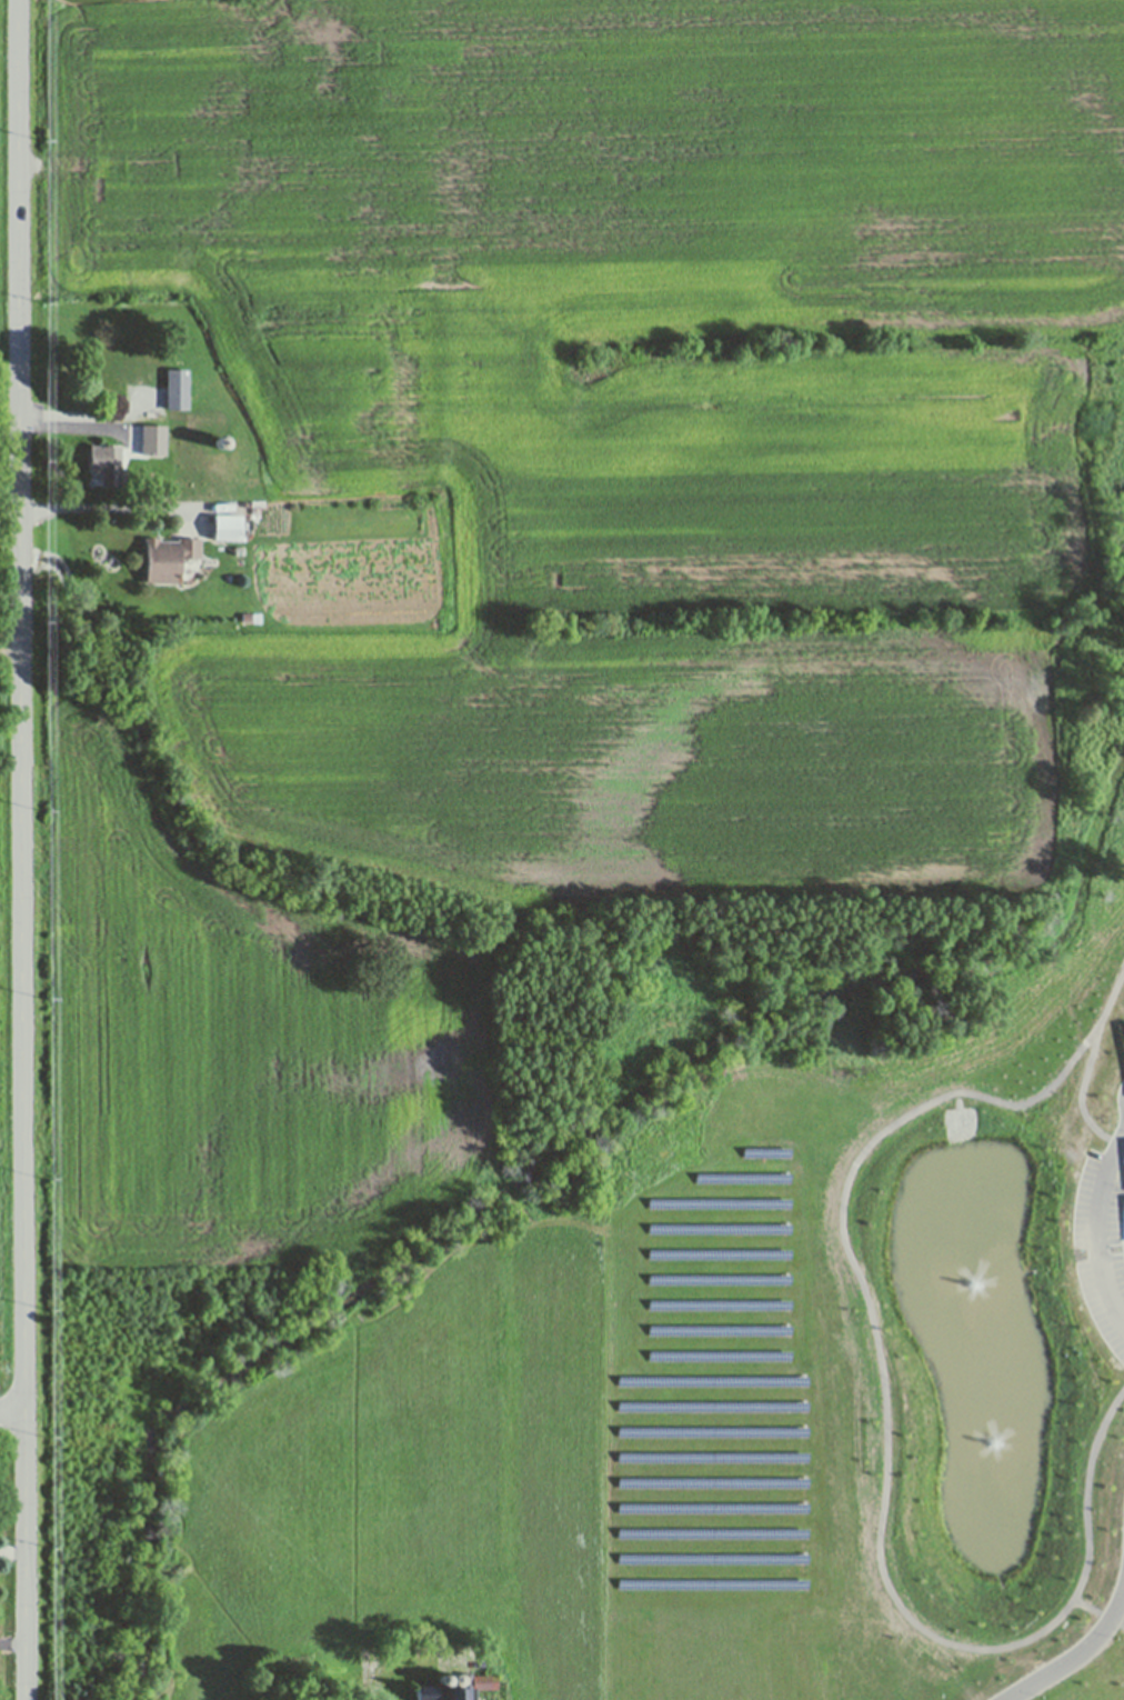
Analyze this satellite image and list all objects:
building: (123, 371)
building: (177, 389)
building: (218, 413)
building: (313, 434)
building: (152, 439)
building: (220, 441)
building: (94, 457)
building: (110, 463)
road: (189, 466)
building: (159, 493)
building: (227, 526)
building: (168, 557)
building: (110, 558)
building: (86, 599)
building: (250, 614)
road: (21, 706)
crop: (8, 713)
road: (1102, 1227)
solar farm: (716, 1393)
road: (12, 1412)
road: (24, 1557)
road: (1071, 1658)
building: (440, 1678)
building: (453, 1678)
building: (455, 1688)

